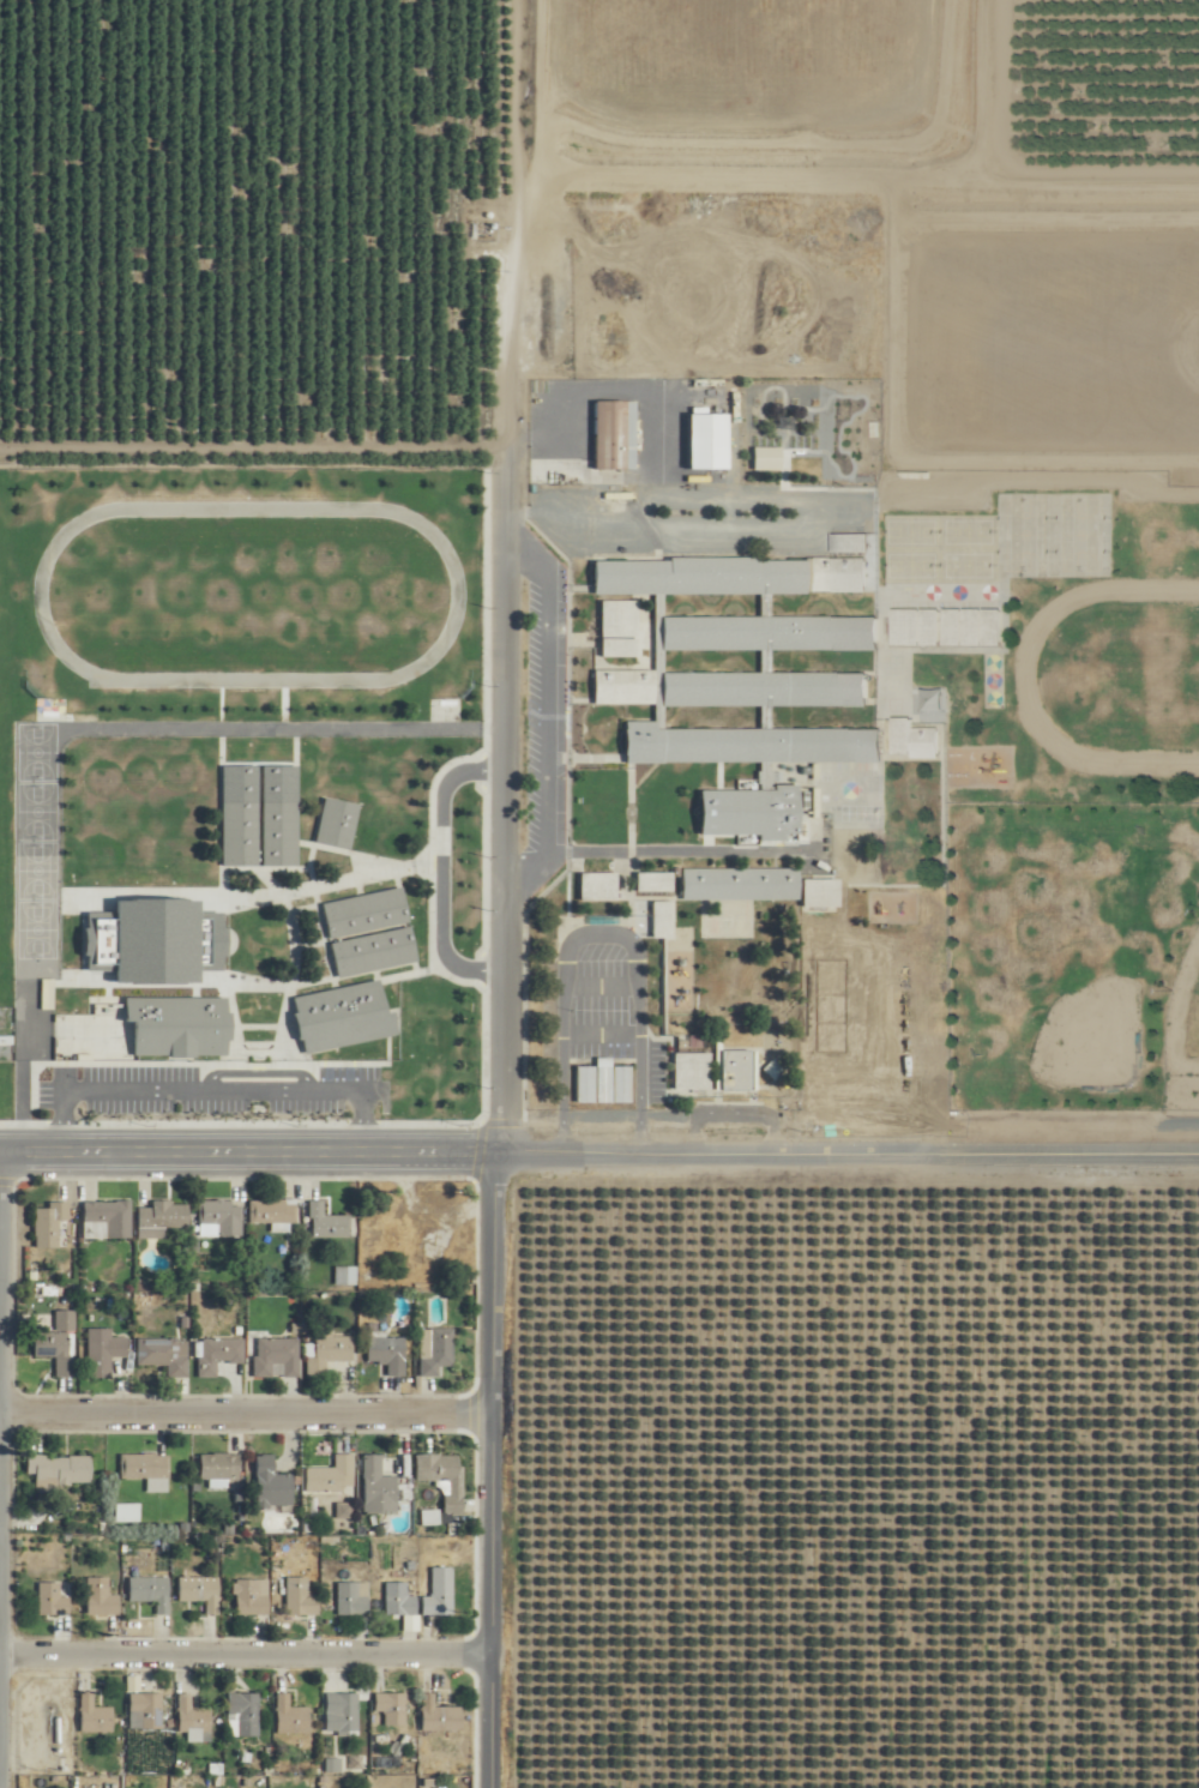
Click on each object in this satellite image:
crop: (1110, 62)
crop: (243, 90)
building: (614, 435)
building: (705, 441)
building: (947, 626)
building: (619, 627)
building: (741, 673)
road: (554, 724)
building: (915, 739)
road: (498, 800)
building: (338, 823)
building: (240, 833)
building: (281, 833)
road: (451, 878)
building: (655, 880)
building: (740, 884)
building: (598, 886)
building: (820, 892)
building: (366, 913)
building: (656, 919)
road: (607, 931)
building: (374, 952)
building: (342, 1017)
building: (146, 1029)
building: (692, 1071)
building: (737, 1071)
building: (604, 1083)
road: (567, 1125)
road: (645, 1126)
road: (245, 1144)
road: (844, 1146)
building: (273, 1211)
building: (162, 1218)
building: (221, 1218)
building: (107, 1220)
building: (327, 1223)
building: (49, 1224)
building: (66, 1320)
building: (56, 1350)
building: (434, 1353)
building: (387, 1354)
building: (106, 1355)
building: (165, 1355)
building: (218, 1355)
building: (327, 1355)
building: (277, 1359)
road: (245, 1401)
road: (488, 1465)
building: (219, 1467)
building: (145, 1468)
building: (59, 1471)
building: (332, 1476)
building: (445, 1480)
building: (272, 1487)
building: (378, 1487)
crop: (878, 1491)
building: (128, 1512)
building: (151, 1591)
building: (201, 1591)
building: (440, 1593)
building: (252, 1596)
building: (101, 1597)
building: (301, 1597)
building: (52, 1599)
building: (351, 1600)
building: (399, 1600)
road: (243, 1643)
building: (392, 1708)
building: (145, 1710)
building: (246, 1711)
building: (342, 1711)
building: (95, 1715)
building: (291, 1716)
building: (439, 1716)
building: (194, 1720)

